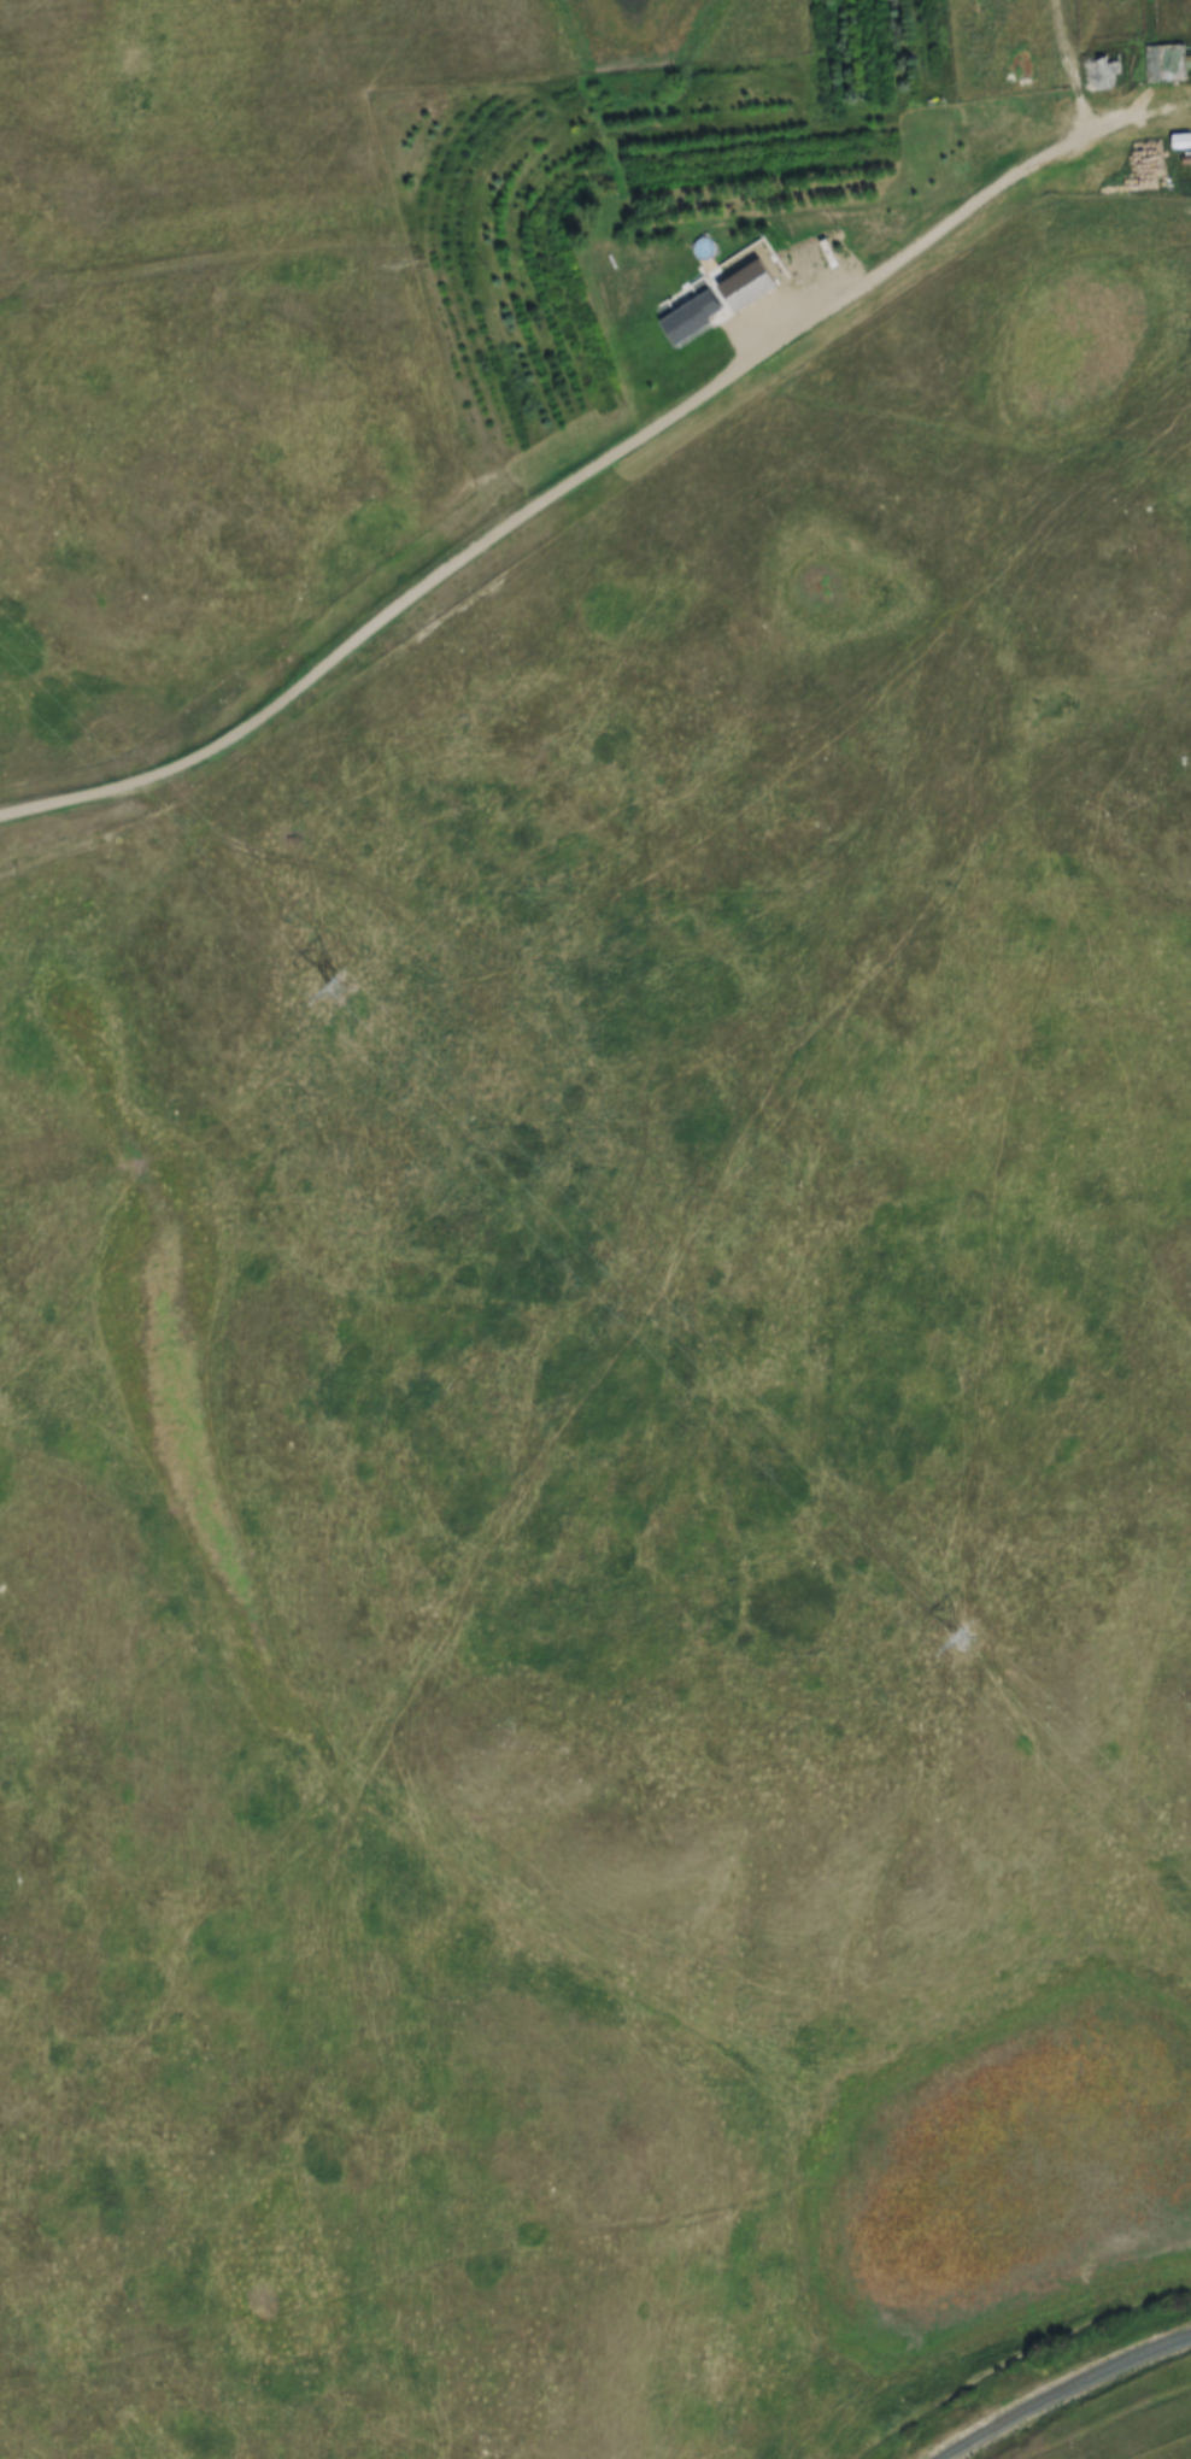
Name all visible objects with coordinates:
building: (1163, 63)
building: (1099, 70)
building: (690, 319)
road: (594, 470)
power tower: (347, 993)
power tower: (961, 1644)
railway: (1064, 2391)

